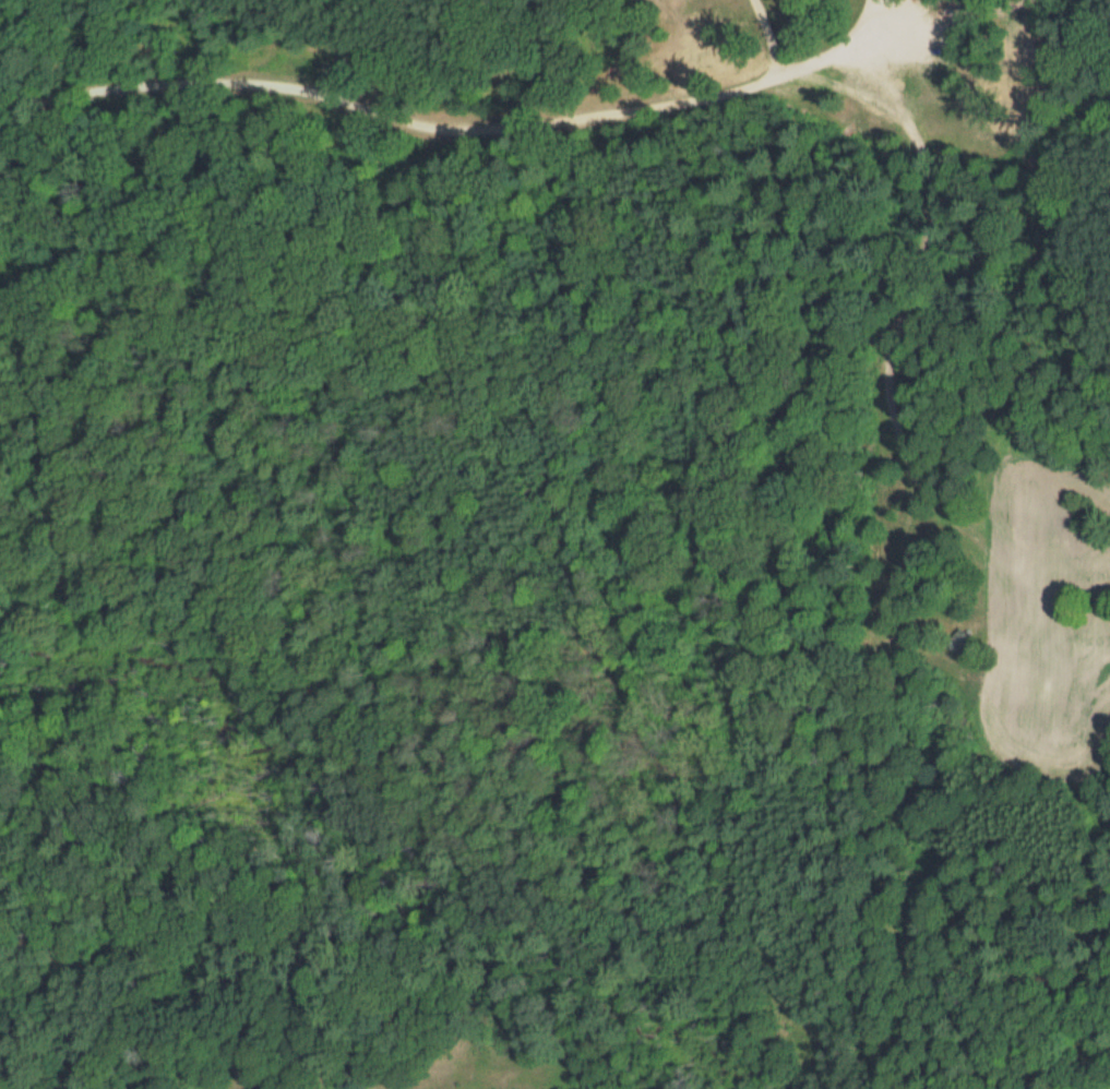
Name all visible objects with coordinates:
road: (775, 34)
road: (464, 125)
building: (955, 642)

